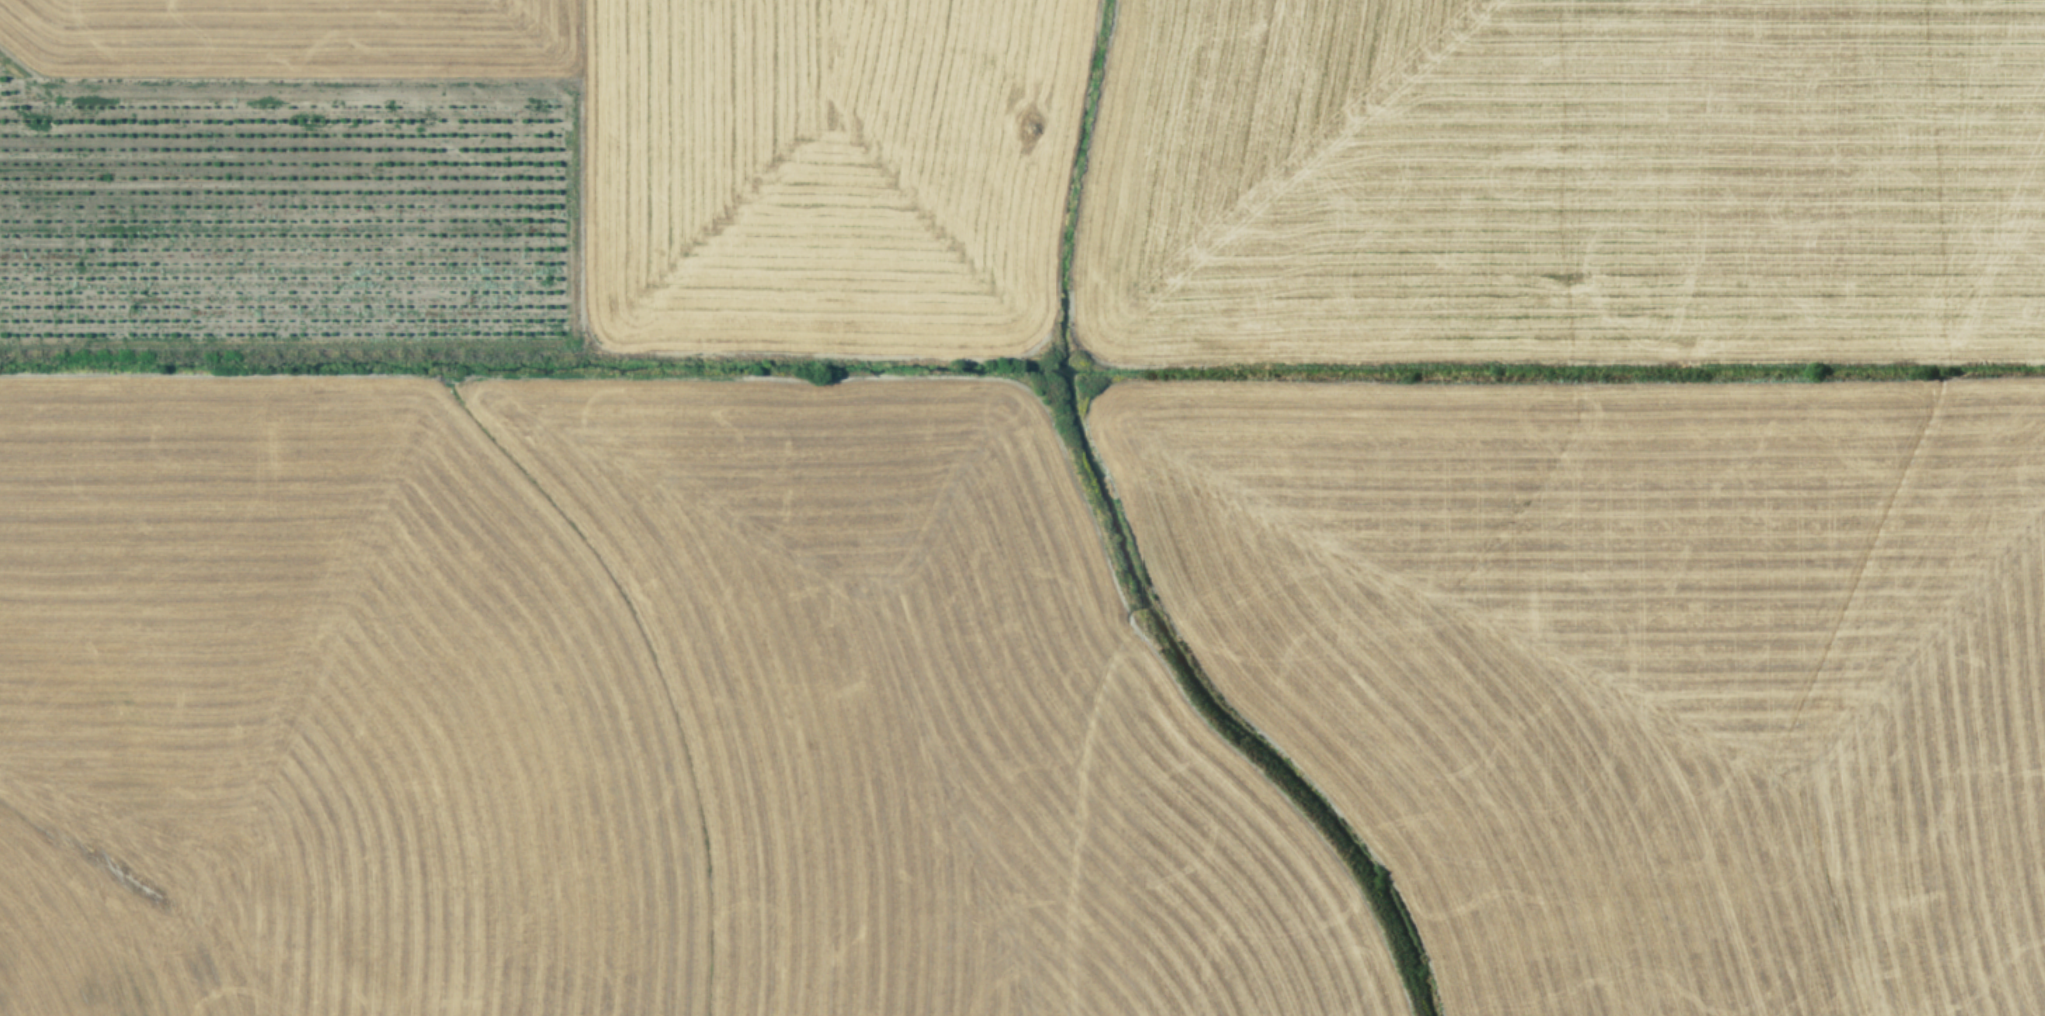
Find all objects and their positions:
crop: (1022, 508)

